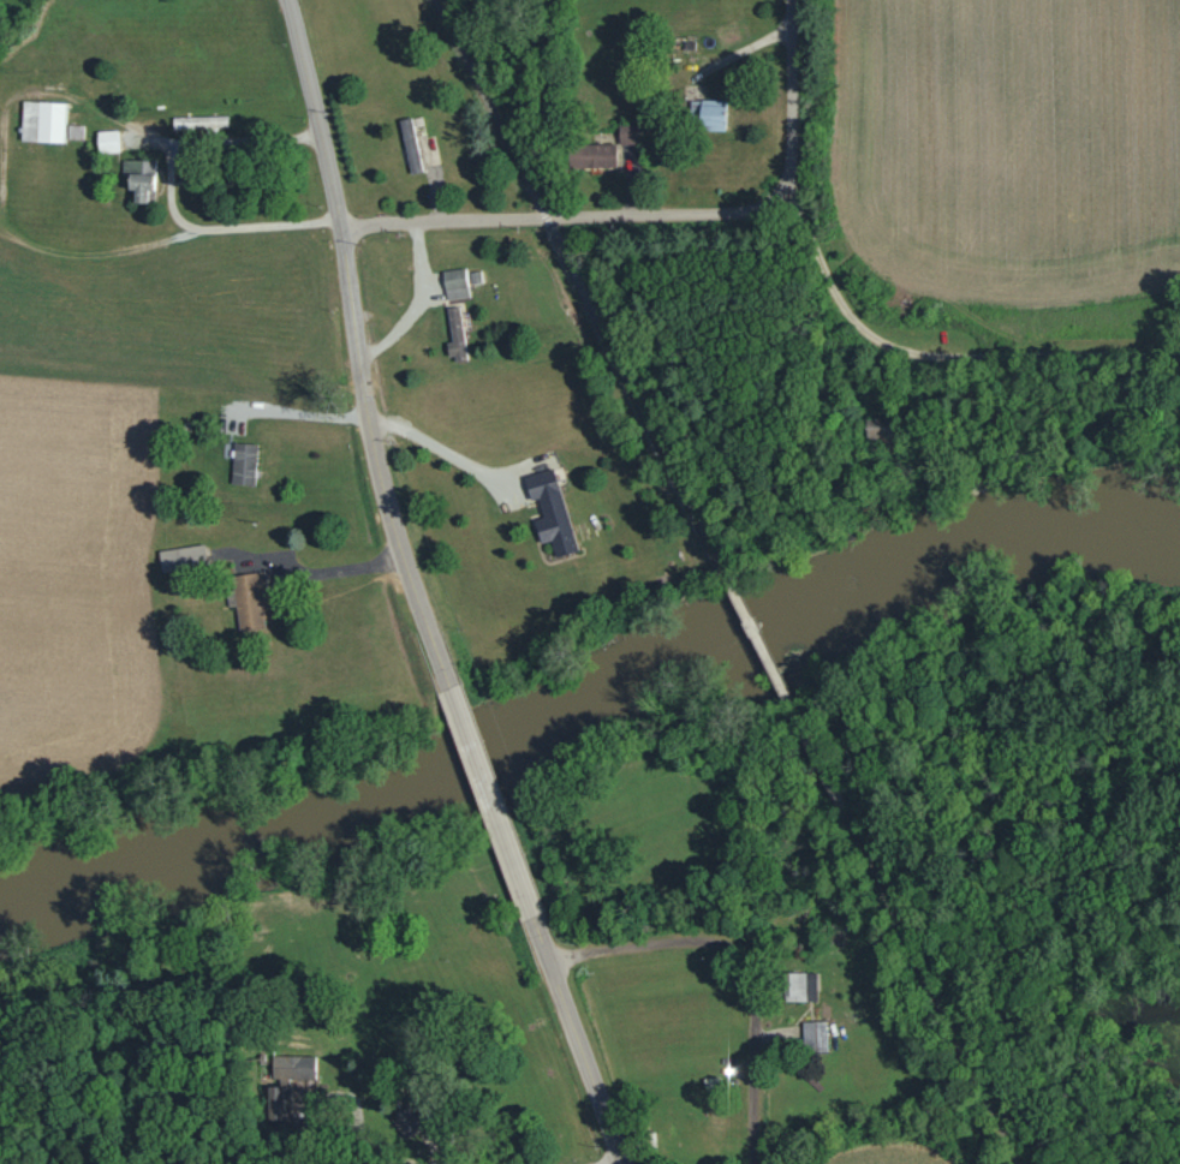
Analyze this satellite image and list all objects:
road: (290, 1)
road: (792, 99)
road: (488, 103)
building: (709, 113)
building: (43, 120)
building: (199, 121)
building: (75, 131)
road: (244, 137)
building: (108, 141)
building: (410, 145)
building: (592, 154)
building: (141, 178)
road: (546, 216)
road: (561, 217)
building: (455, 283)
building: (455, 333)
road: (358, 346)
road: (935, 354)
road: (637, 395)
building: (881, 426)
building: (244, 464)
building: (550, 511)
building: (181, 557)
building: (249, 598)
road: (759, 644)
river: (588, 700)
road: (490, 800)
road: (645, 942)
road: (907, 943)
building: (800, 986)
building: (814, 1035)
road: (577, 1039)
road: (753, 1053)
building: (292, 1068)
building: (276, 1103)
building: (406, 1121)
road: (1119, 1159)

